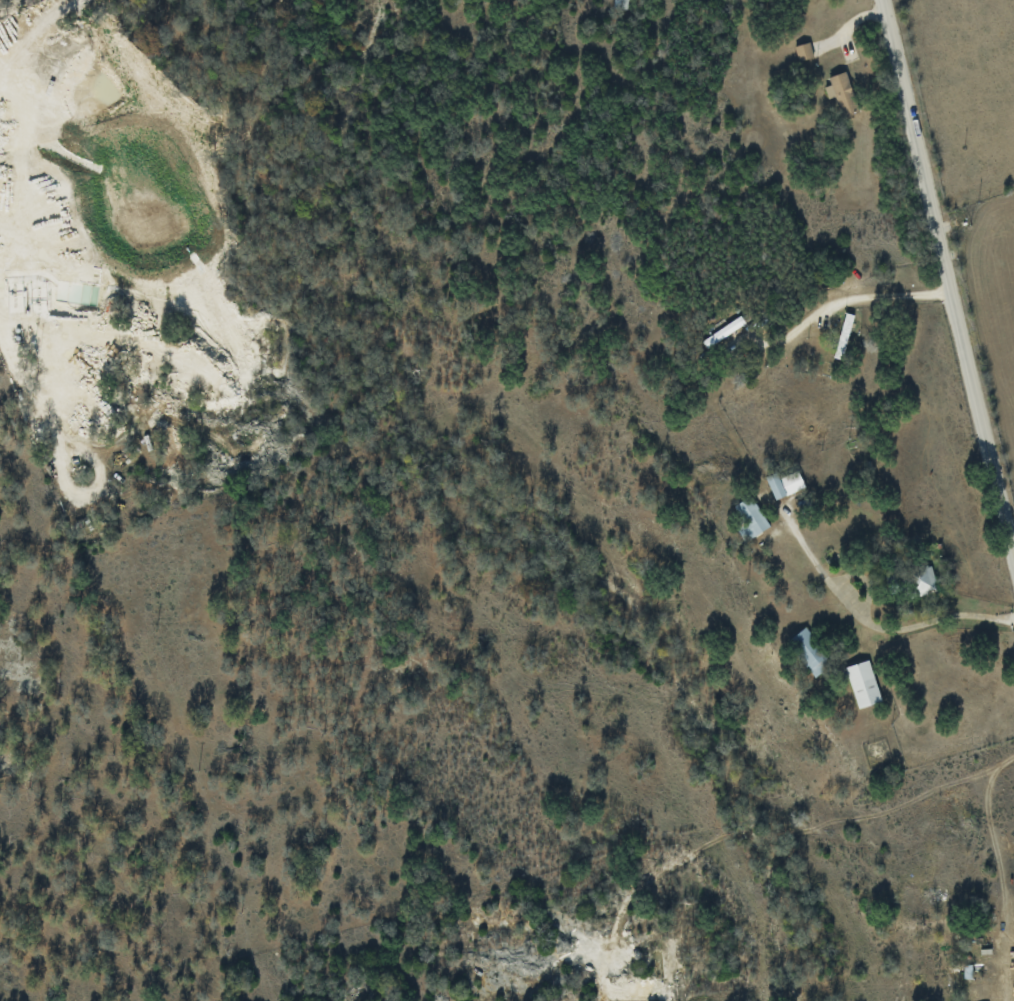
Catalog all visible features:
road: (35, 36)
building: (842, 93)
road: (946, 279)
road: (851, 300)
building: (723, 331)
building: (784, 483)
building: (750, 516)
building: (924, 581)
road: (872, 624)
building: (809, 652)
building: (863, 683)

